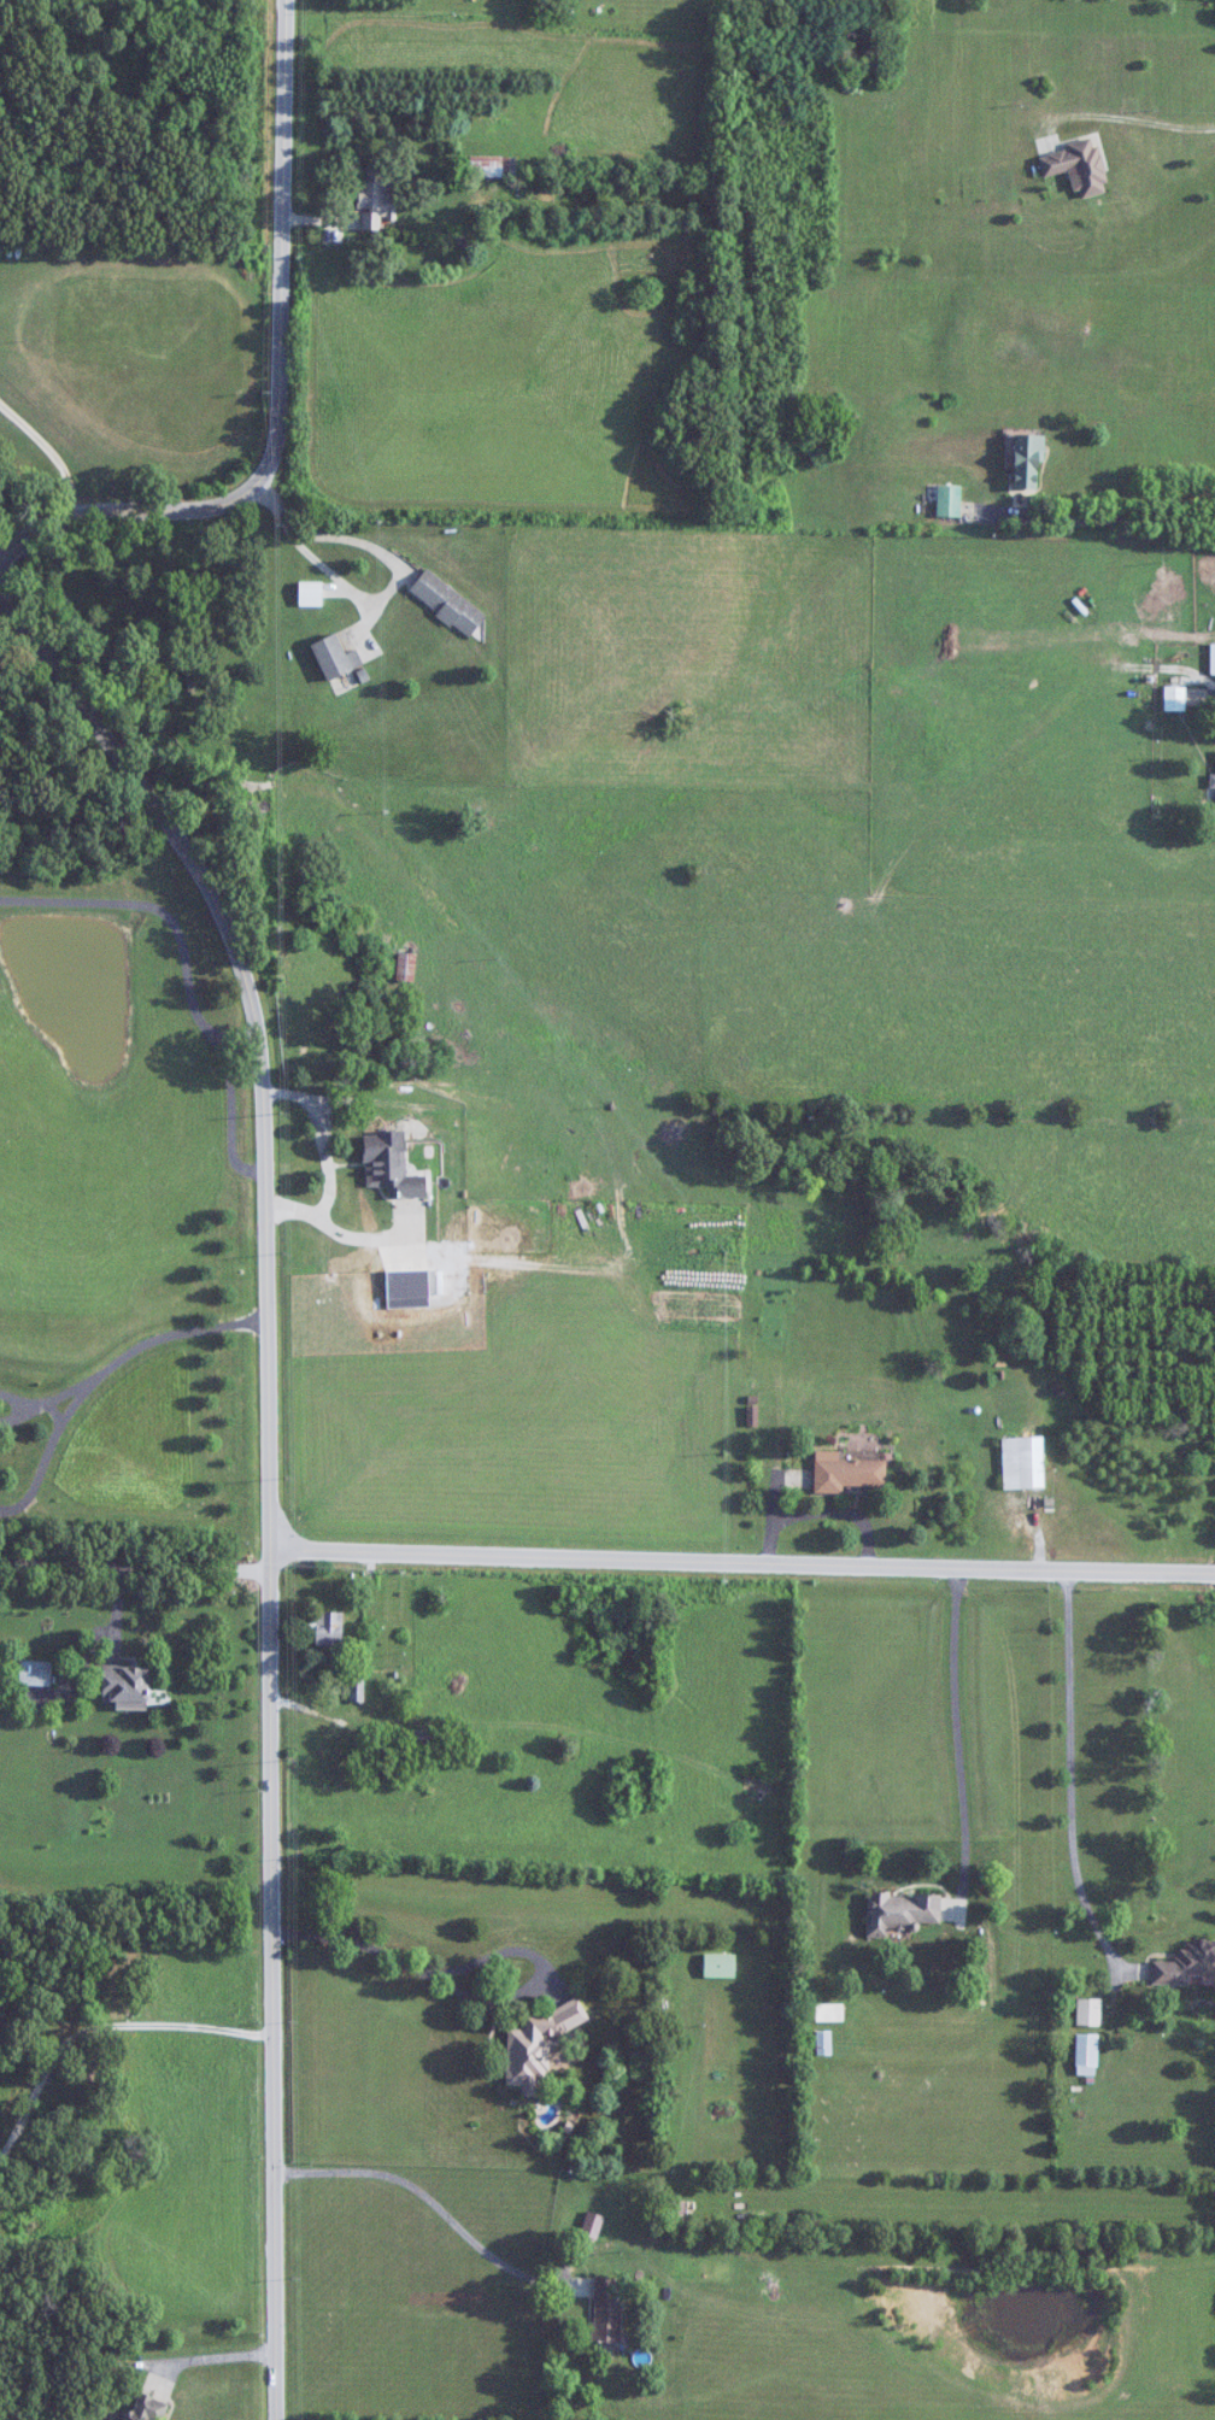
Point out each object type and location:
road: (1123, 116)
building: (1079, 164)
building: (492, 166)
building: (376, 182)
road: (282, 388)
road: (43, 445)
building: (1027, 462)
building: (949, 500)
road: (369, 511)
road: (1098, 518)
building: (310, 593)
building: (447, 603)
building: (331, 657)
building: (1213, 658)
building: (1174, 698)
building: (1213, 780)
building: (406, 967)
road: (183, 971)
building: (391, 1165)
road: (101, 1370)
road: (67, 1387)
road: (16, 1398)
road: (53, 1409)
road: (16, 1415)
building: (1022, 1462)
road: (275, 1463)
building: (847, 1473)
road: (140, 1552)
road: (747, 1570)
building: (329, 1628)
building: (35, 1673)
building: (125, 1686)
building: (356, 1686)
building: (417, 1737)
road: (957, 1740)
road: (1069, 1776)
building: (902, 1910)
building: (1187, 1963)
building: (718, 1964)
road: (475, 1996)
building: (1088, 2011)
road: (107, 2022)
building: (823, 2042)
building: (536, 2045)
building: (1086, 2054)
road: (432, 2199)
building: (592, 2225)
building: (606, 2308)
road: (228, 2354)
building: (147, 2409)

